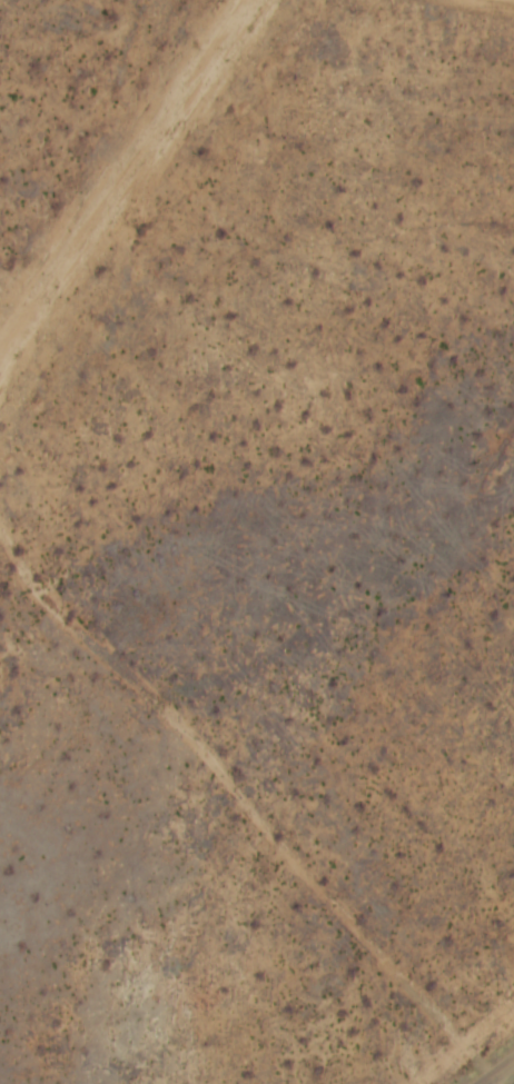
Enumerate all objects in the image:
road: (497, 1072)

